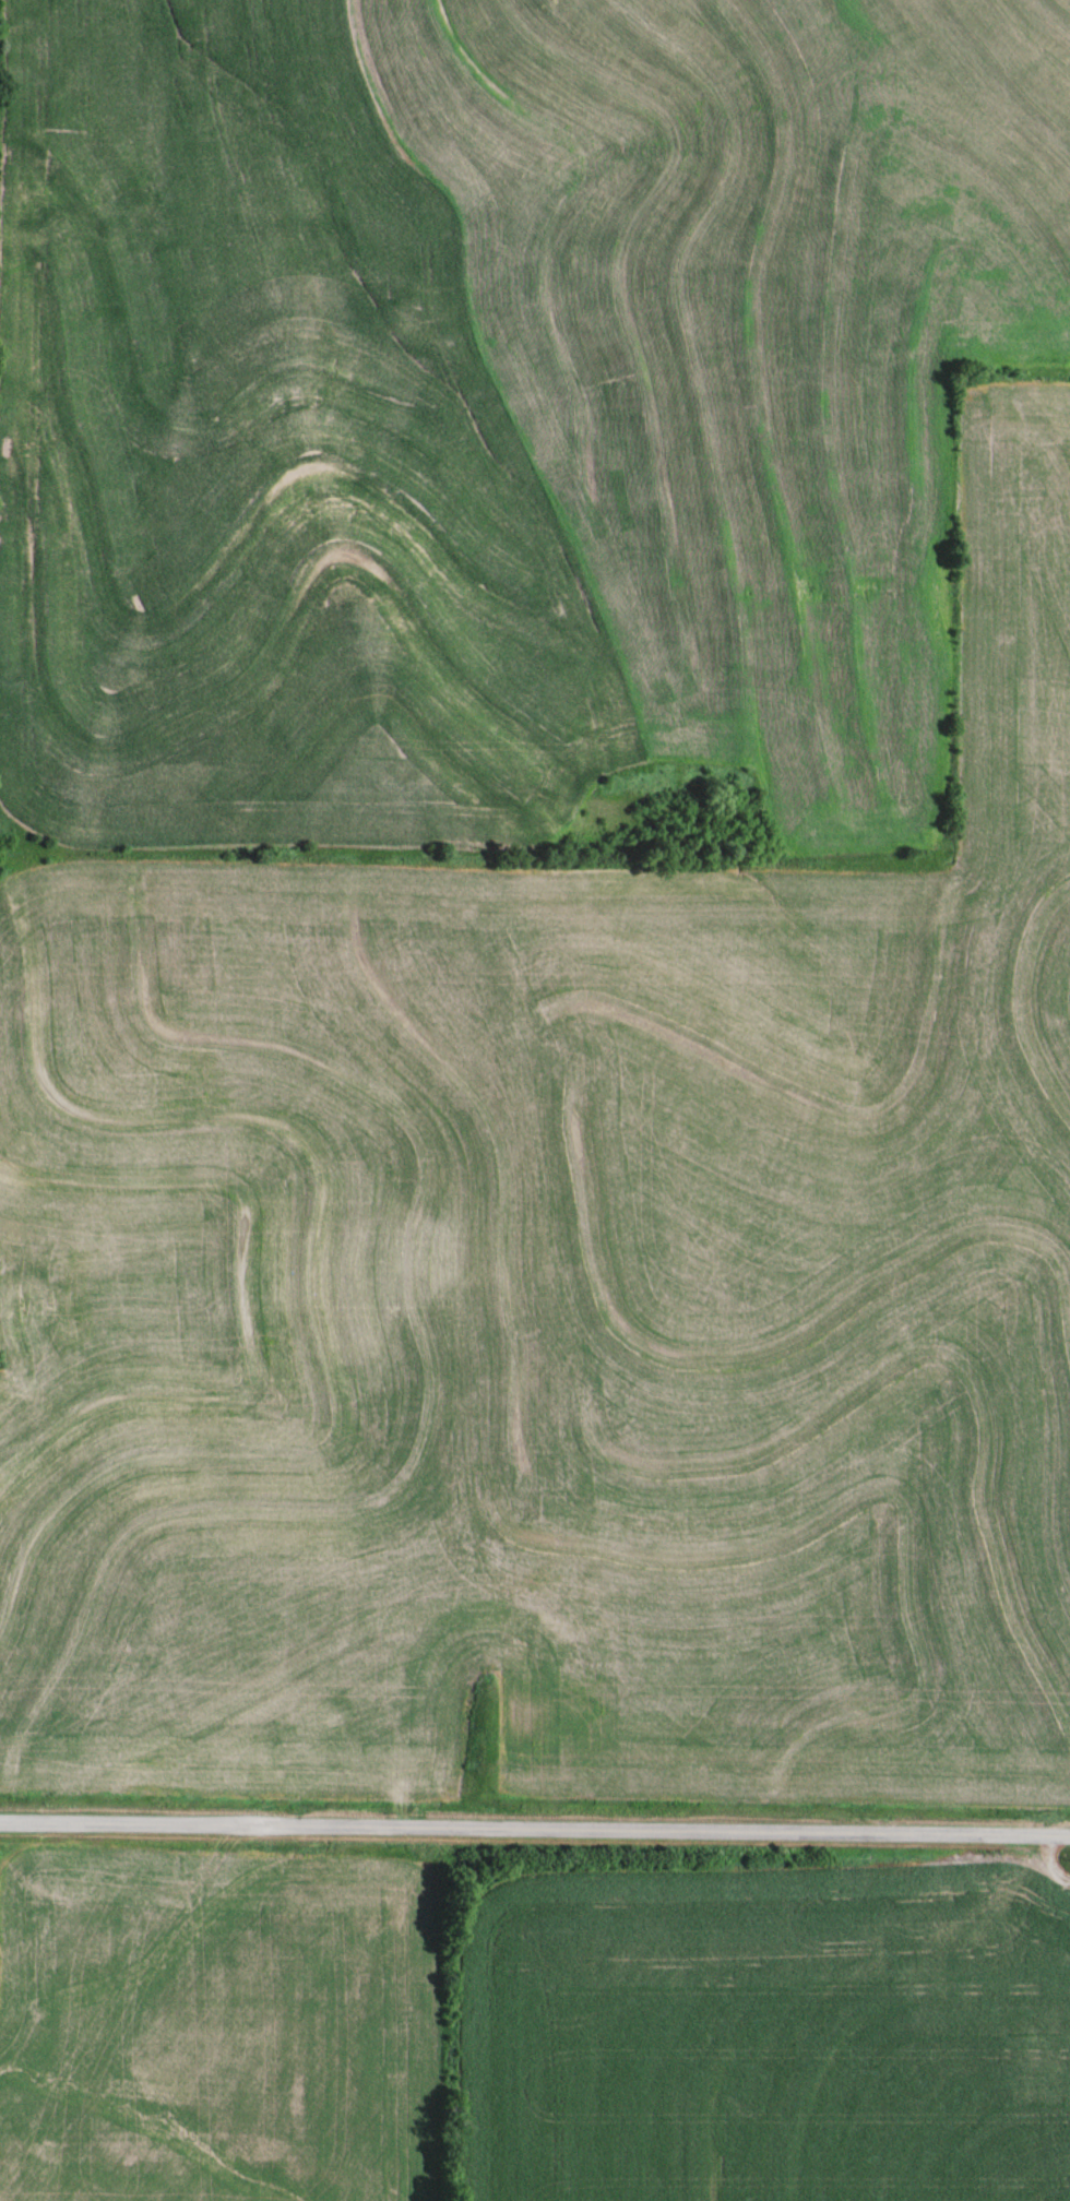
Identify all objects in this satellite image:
road: (535, 1825)

